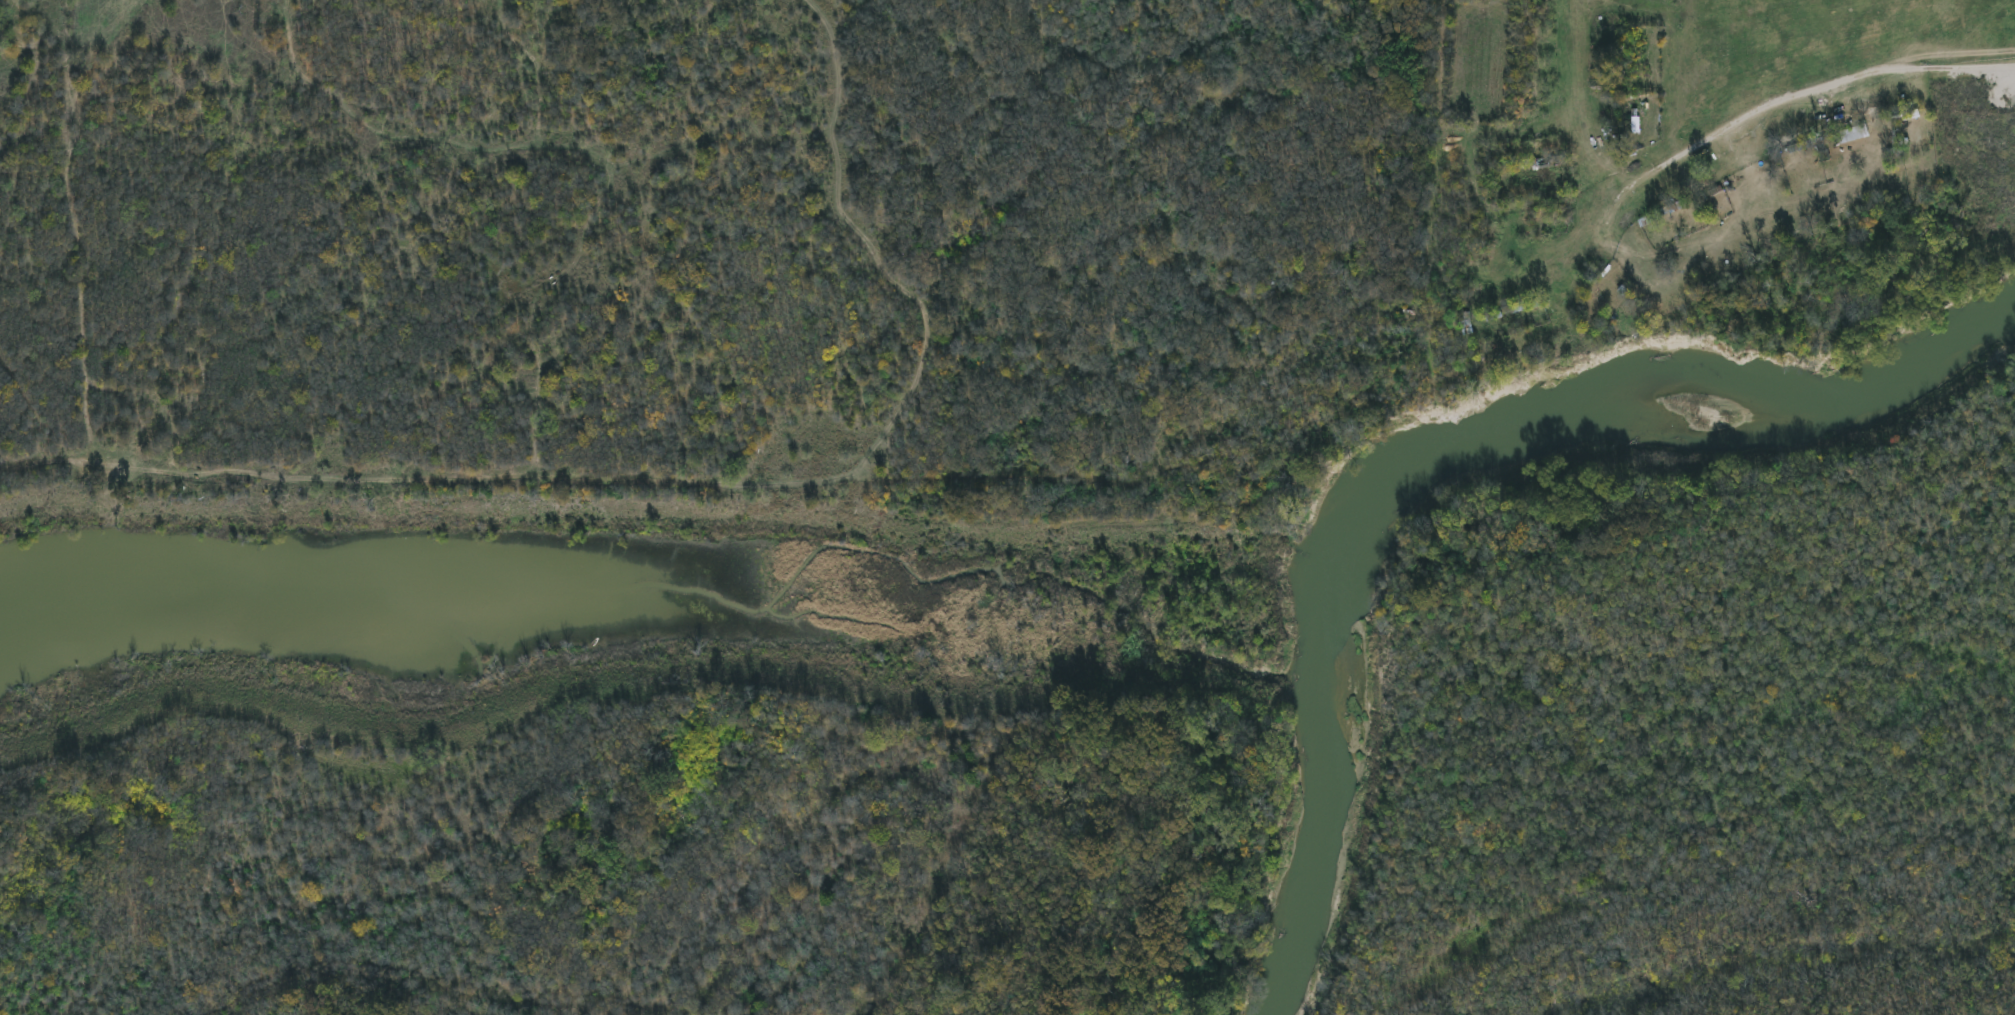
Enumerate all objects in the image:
road: (1822, 92)
building: (1853, 136)
river: (1438, 456)
road: (387, 985)

